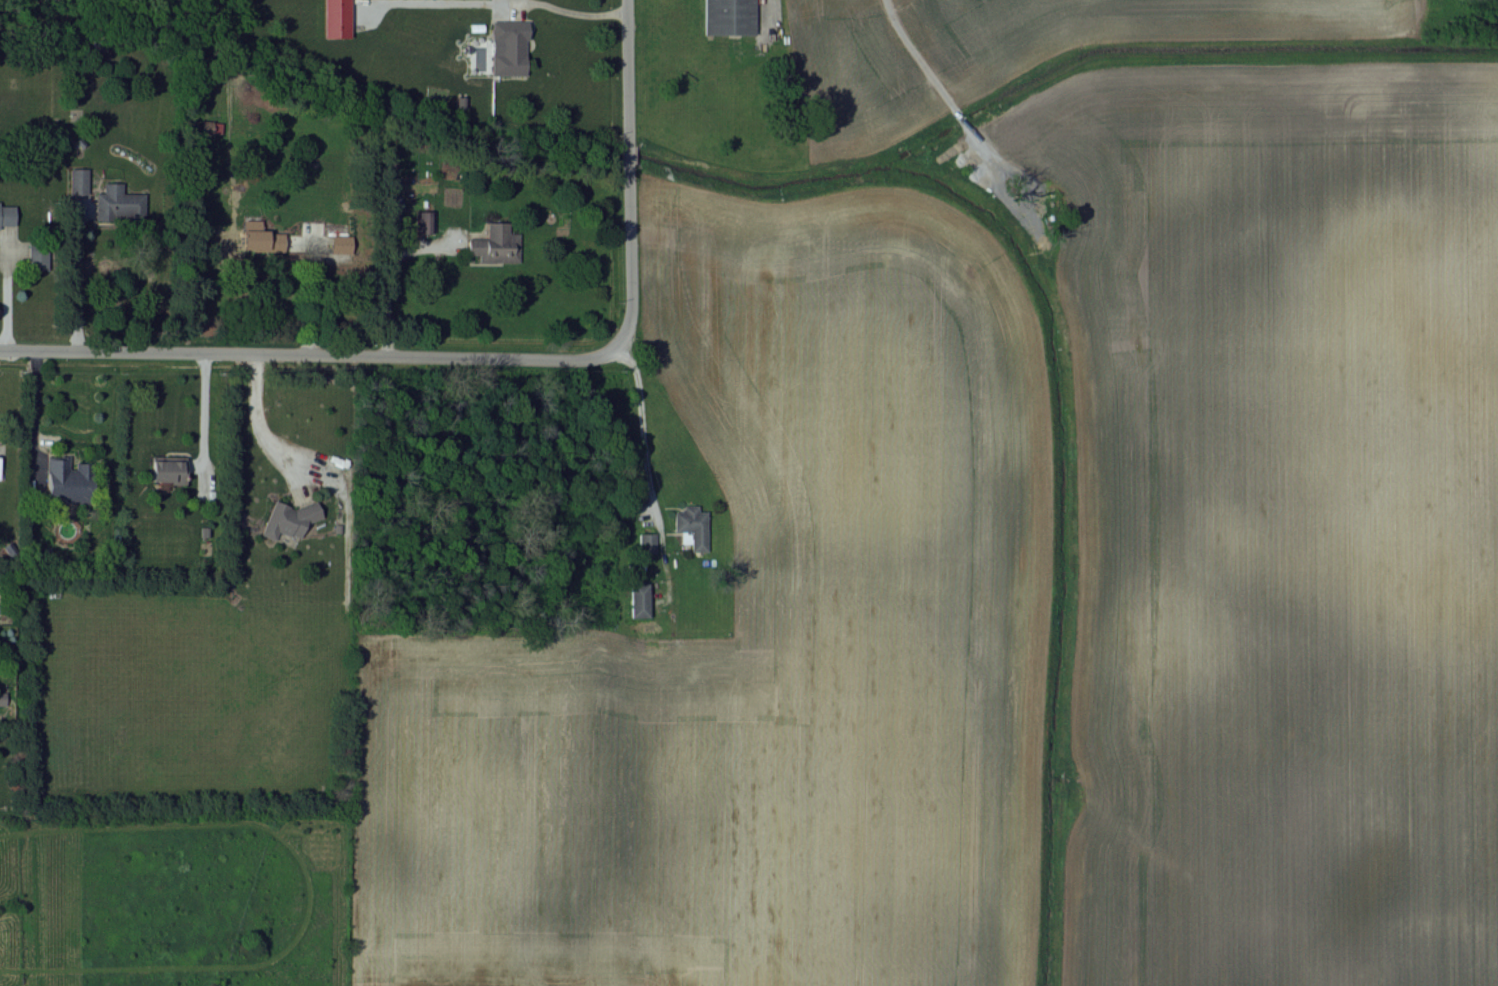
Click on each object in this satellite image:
road: (499, 1)
building: (729, 17)
building: (336, 19)
building: (508, 48)
building: (210, 127)
building: (78, 181)
building: (118, 204)
road: (629, 206)
building: (7, 217)
building: (426, 223)
building: (260, 238)
building: (341, 244)
building: (496, 245)
road: (76, 277)
road: (386, 277)
road: (279, 356)
road: (38, 405)
road: (202, 408)
road: (255, 427)
building: (167, 470)
road: (644, 472)
building: (62, 482)
building: (288, 521)
building: (689, 523)
building: (639, 601)

